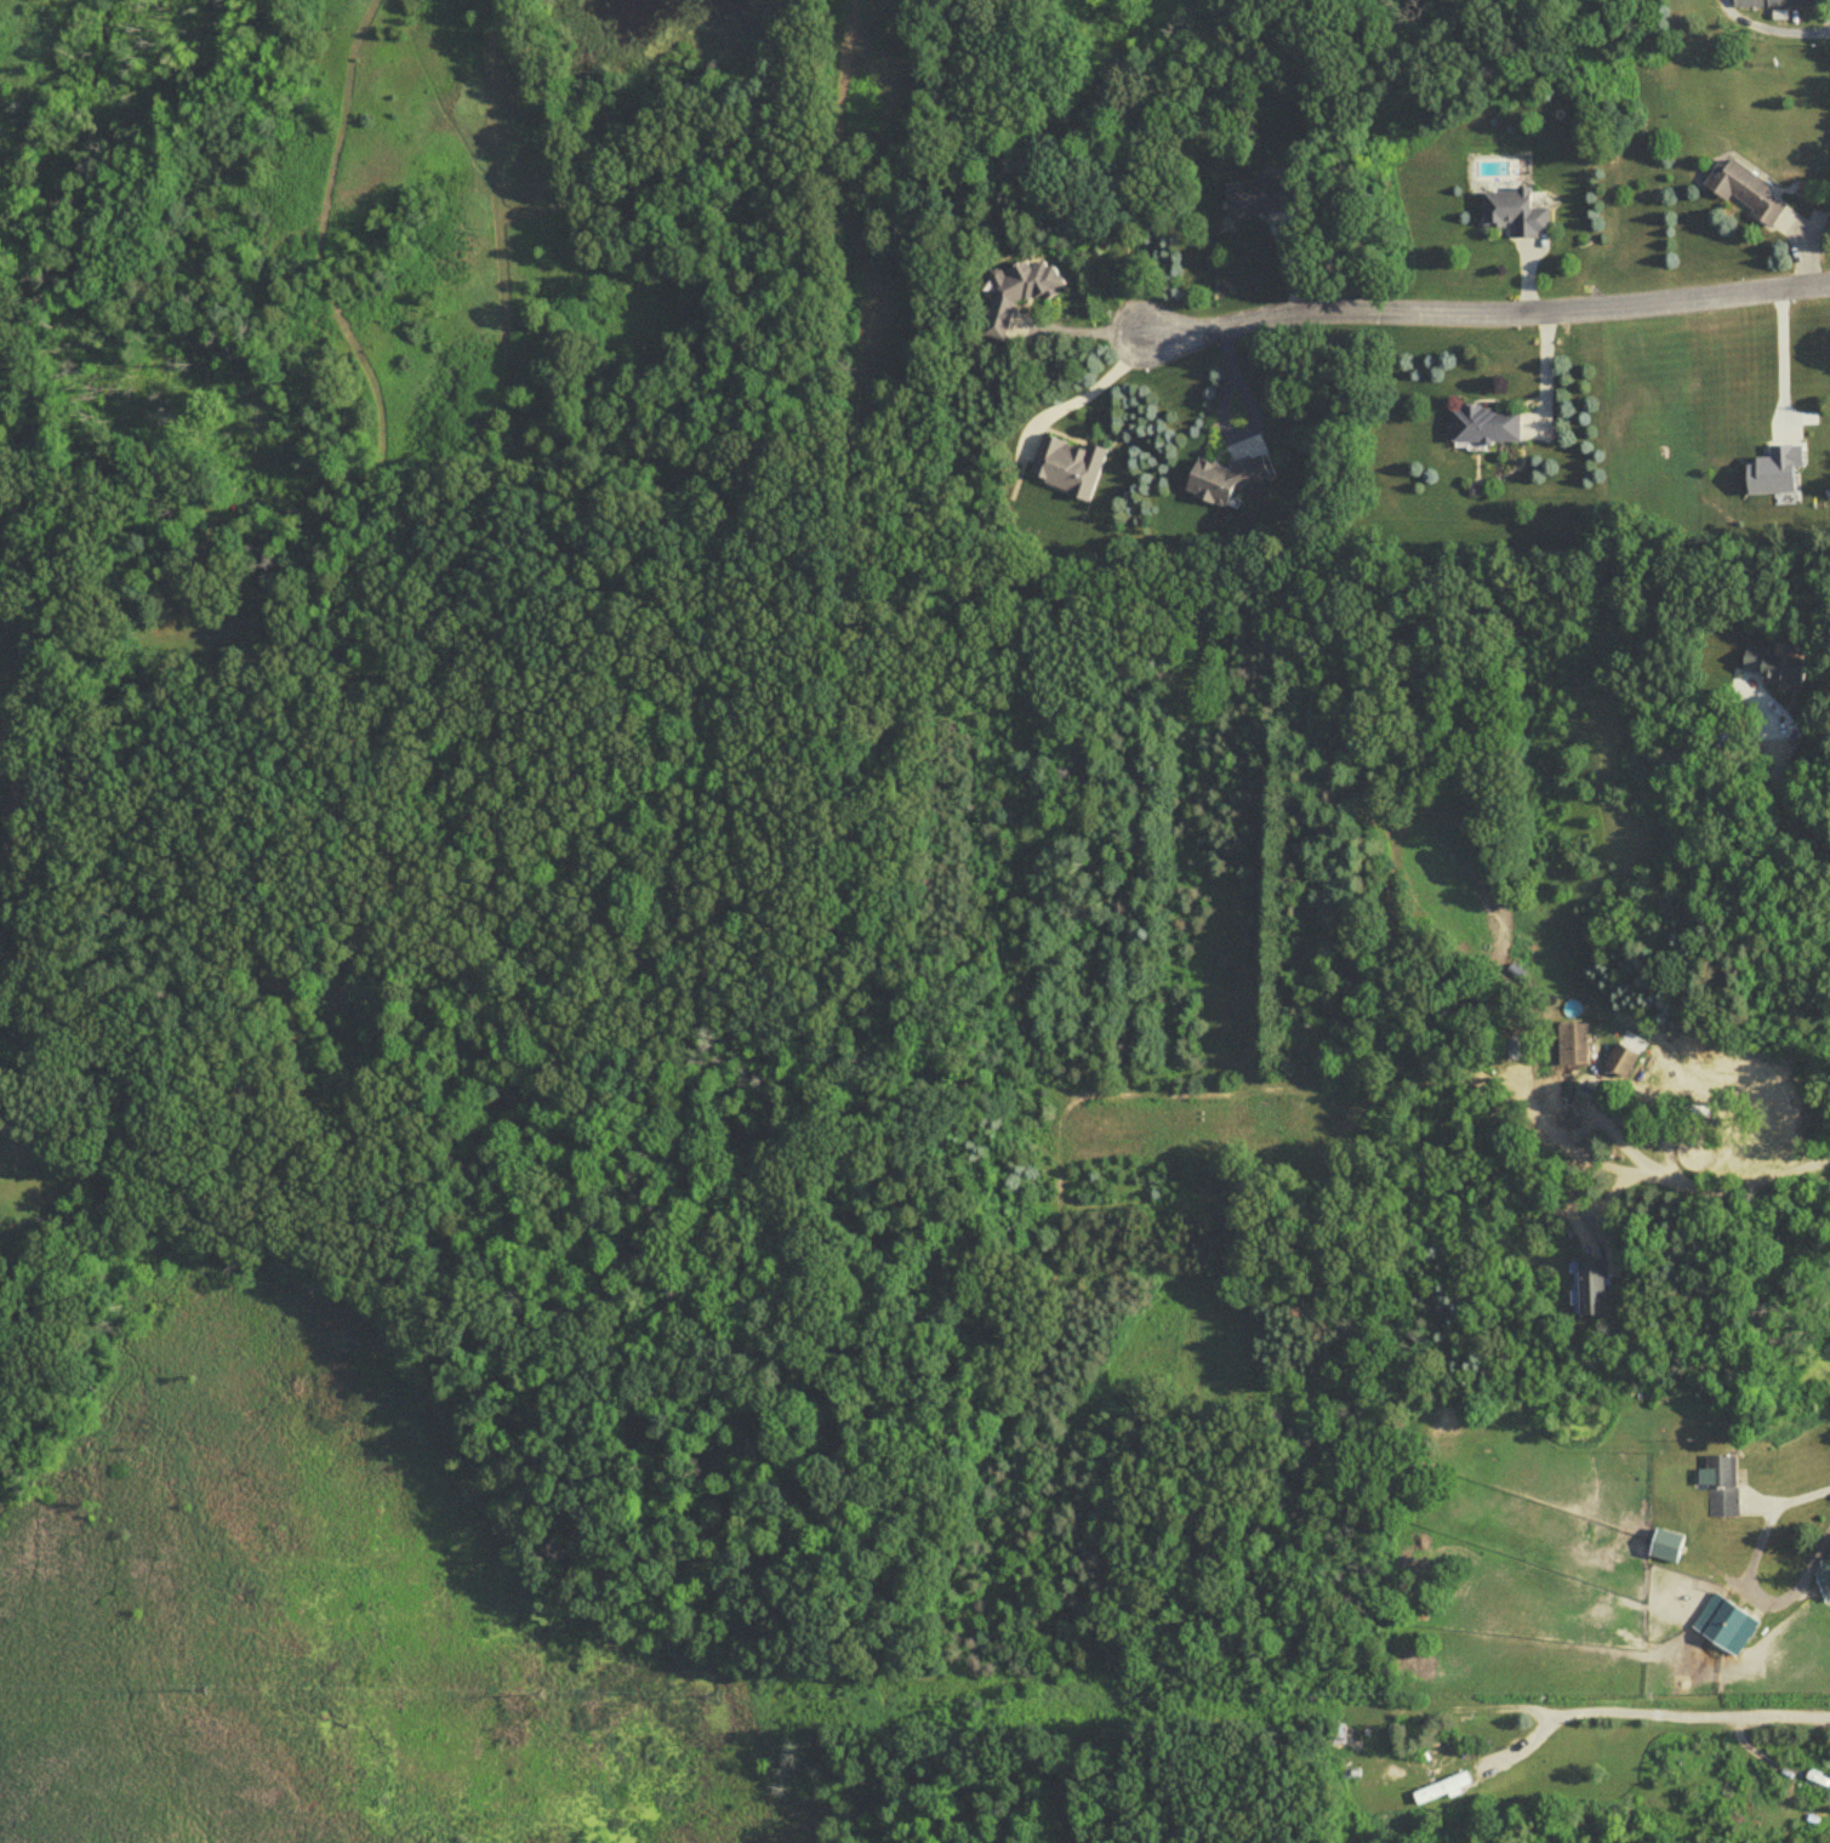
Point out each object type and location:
building: (1779, 2)
building: (1744, 196)
building: (1247, 204)
building: (1511, 217)
building: (1015, 297)
road: (1484, 310)
road: (1780, 352)
road: (1093, 393)
building: (1482, 430)
building: (1070, 472)
building: (1218, 484)
building: (1769, 671)
road: (1780, 791)
building: (1577, 1051)
road: (1665, 1176)
road: (1609, 1212)
building: (1590, 1294)
building: (1721, 1491)
road: (1749, 1584)
building: (1723, 1631)
road: (1655, 1714)
building: (1332, 1739)
building: (1441, 1793)

